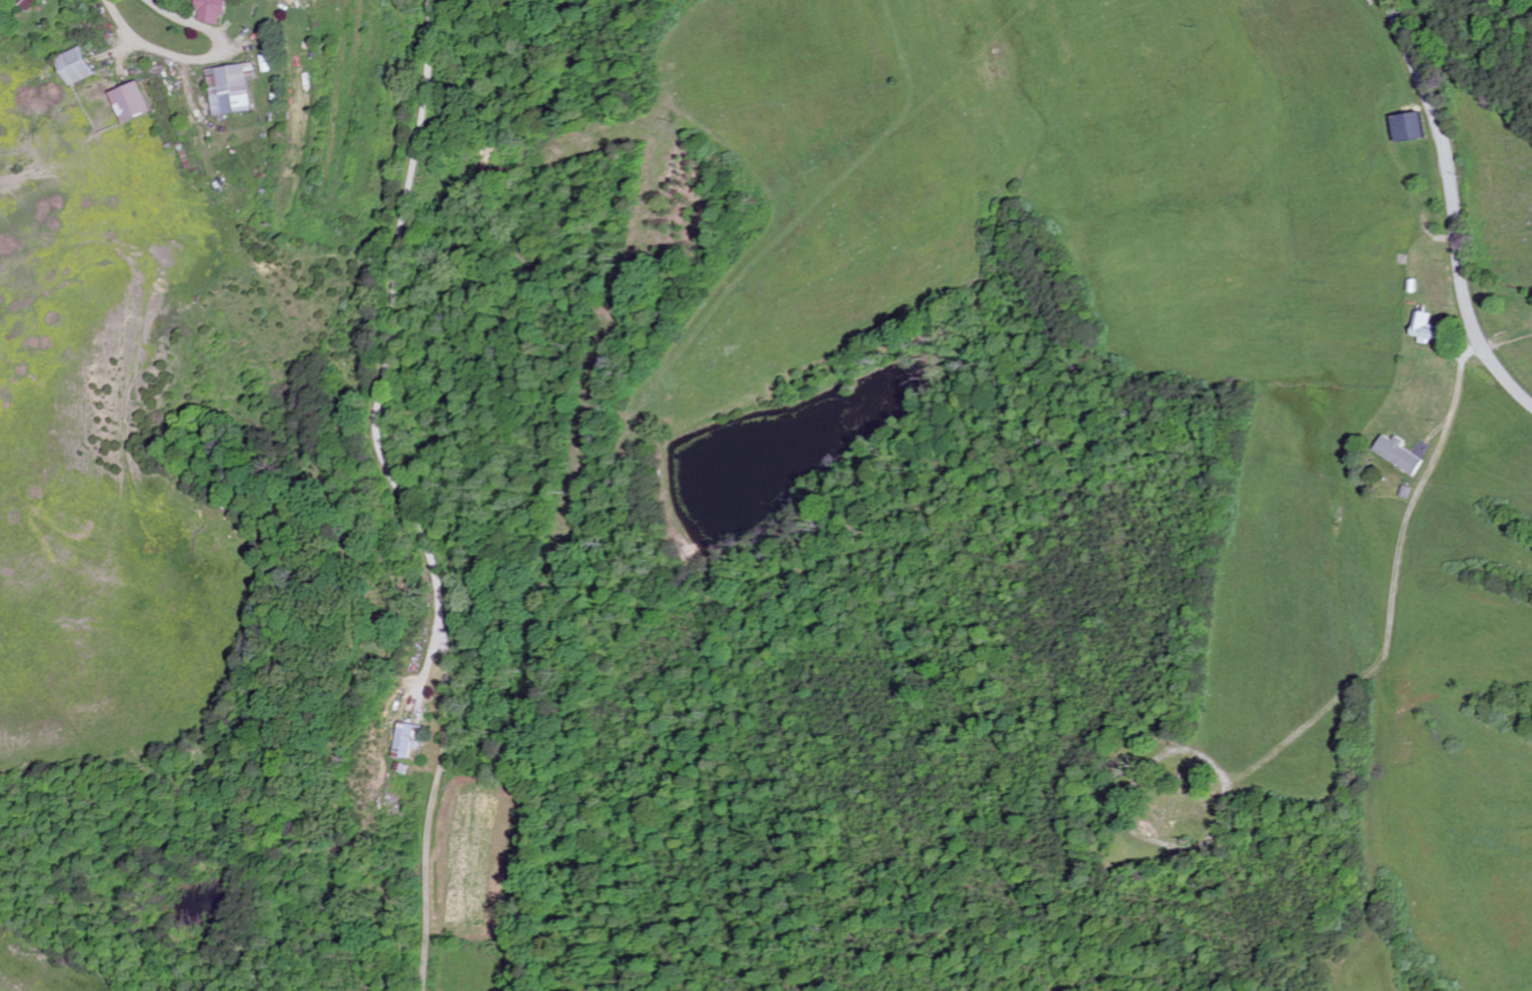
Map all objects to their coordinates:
building: (215, 11)
road: (195, 59)
building: (81, 66)
building: (234, 90)
building: (135, 104)
building: (1406, 127)
road: (1454, 208)
building: (1423, 328)
building: (1398, 455)
road: (401, 494)
road: (1395, 590)
building: (405, 741)

